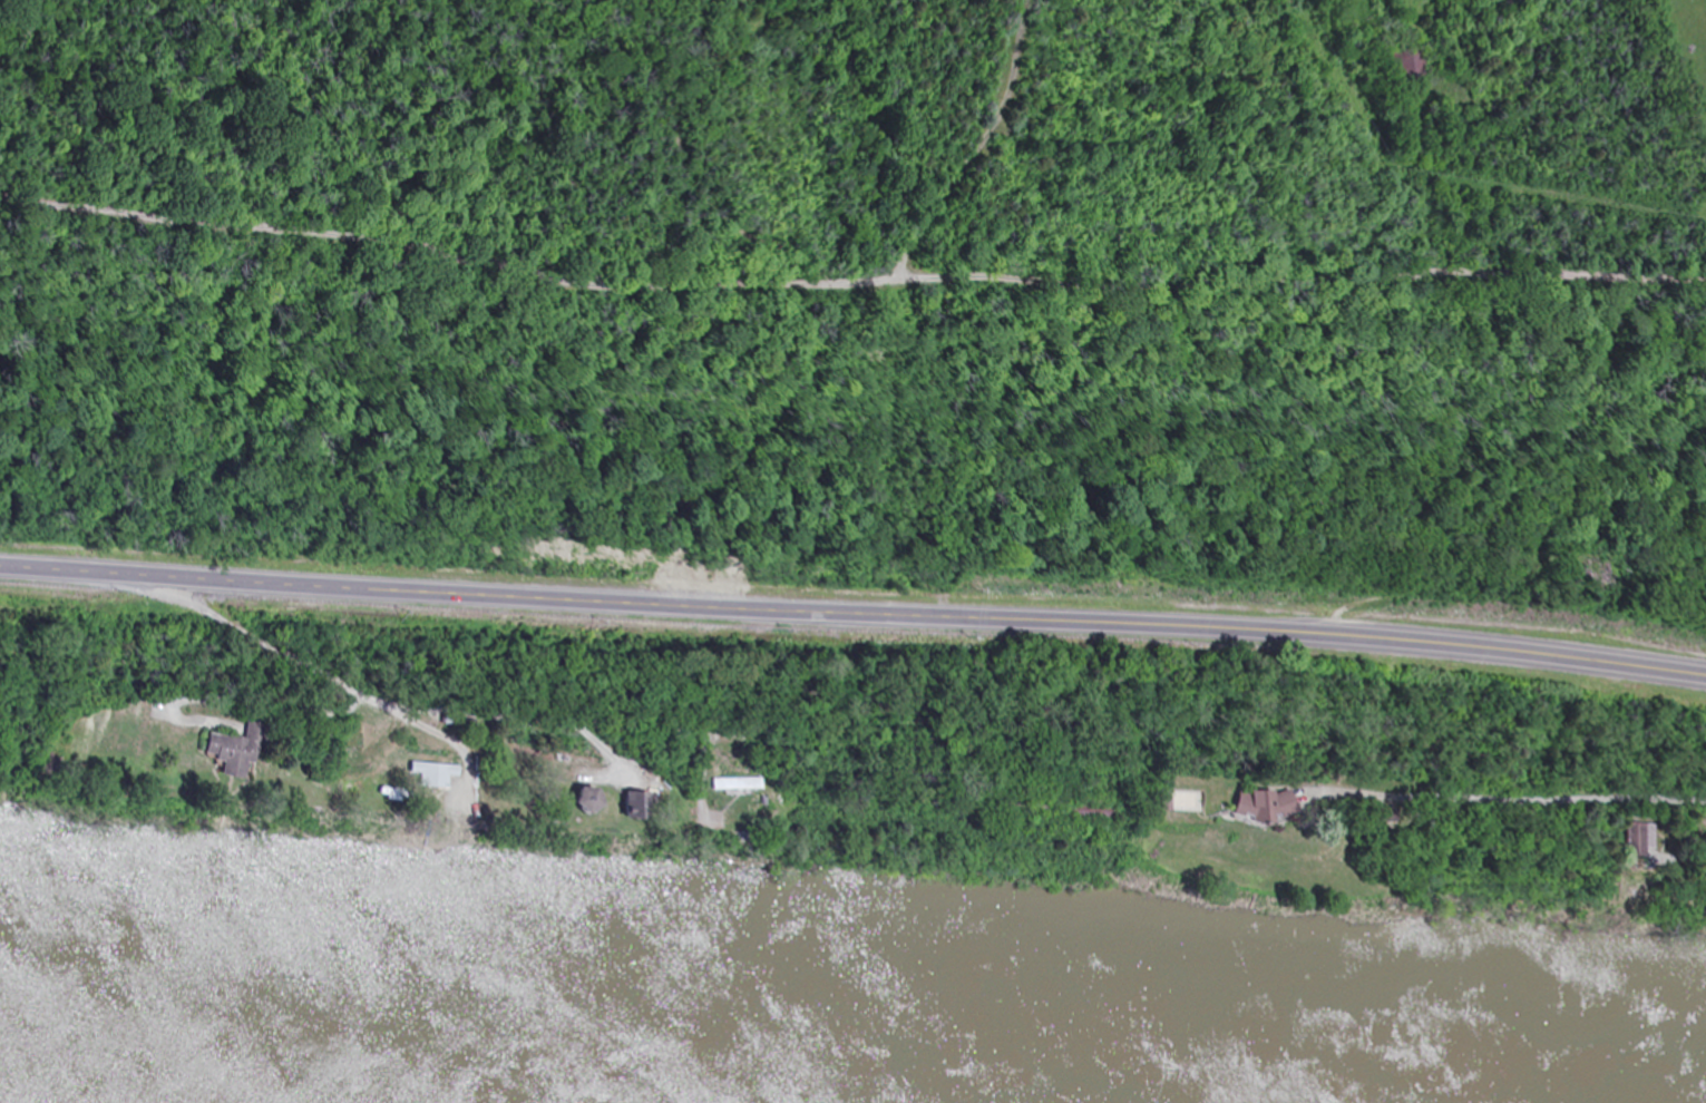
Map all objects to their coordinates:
building: (1411, 68)
road: (966, 113)
road: (852, 231)
road: (854, 607)
building: (241, 750)
building: (575, 798)
road: (1547, 799)
building: (632, 804)
building: (1258, 806)
building: (1082, 809)
building: (1638, 840)

